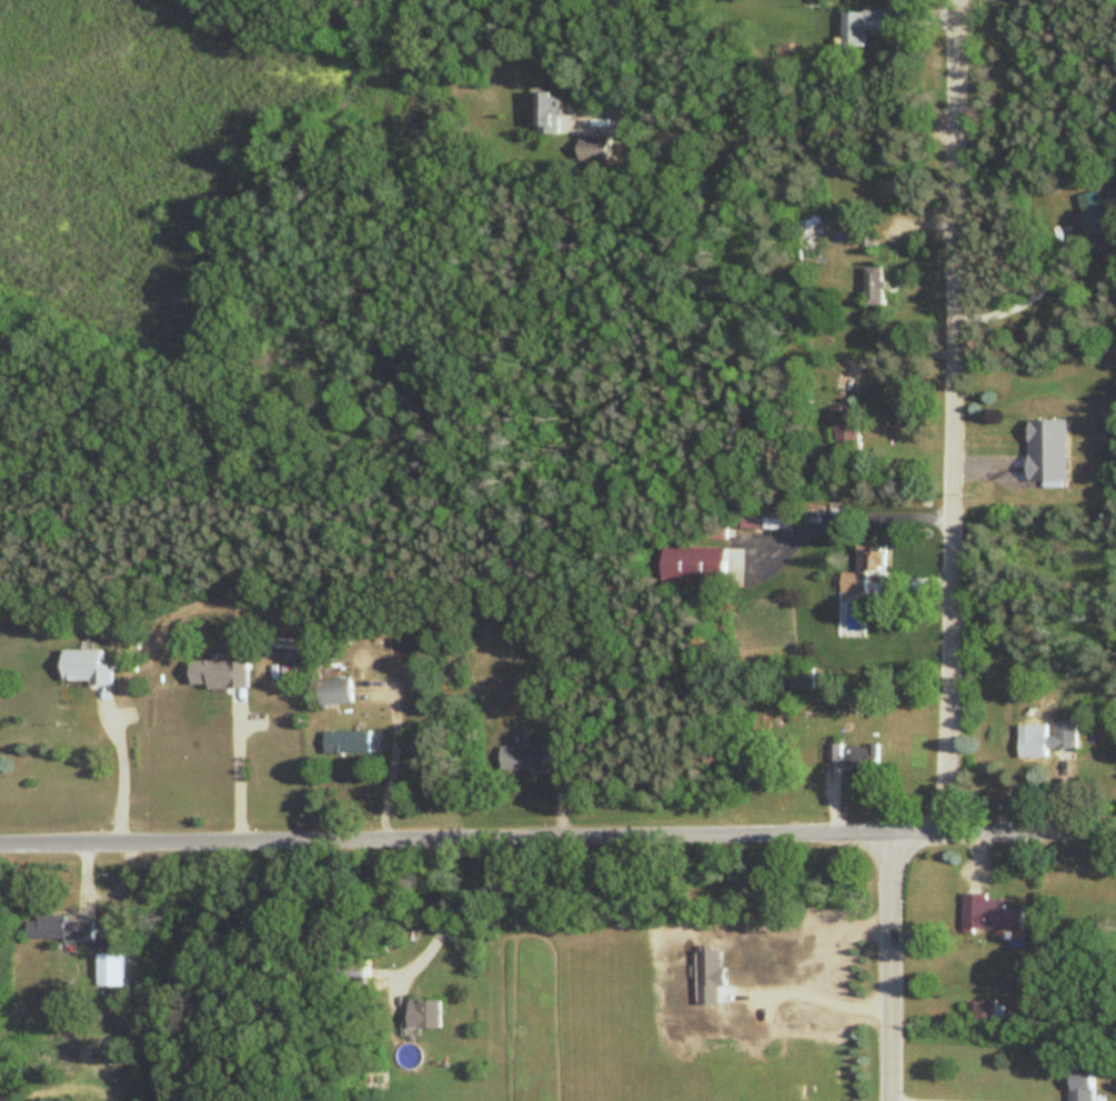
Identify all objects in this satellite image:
building: (862, 27)
building: (551, 114)
road: (764, 121)
building: (597, 151)
building: (1094, 214)
building: (874, 287)
road: (1022, 297)
road: (954, 416)
building: (845, 430)
building: (1050, 431)
road: (849, 518)
building: (765, 520)
building: (711, 533)
building: (864, 564)
building: (695, 567)
building: (802, 680)
building: (251, 682)
building: (335, 693)
building: (1046, 741)
building: (348, 743)
building: (540, 757)
building: (854, 759)
road: (119, 771)
road: (237, 772)
road: (385, 777)
road: (557, 837)
road: (443, 912)
building: (989, 915)
building: (59, 930)
road: (889, 967)
building: (342, 973)
building: (984, 1011)
building: (423, 1013)
building: (1082, 1085)

